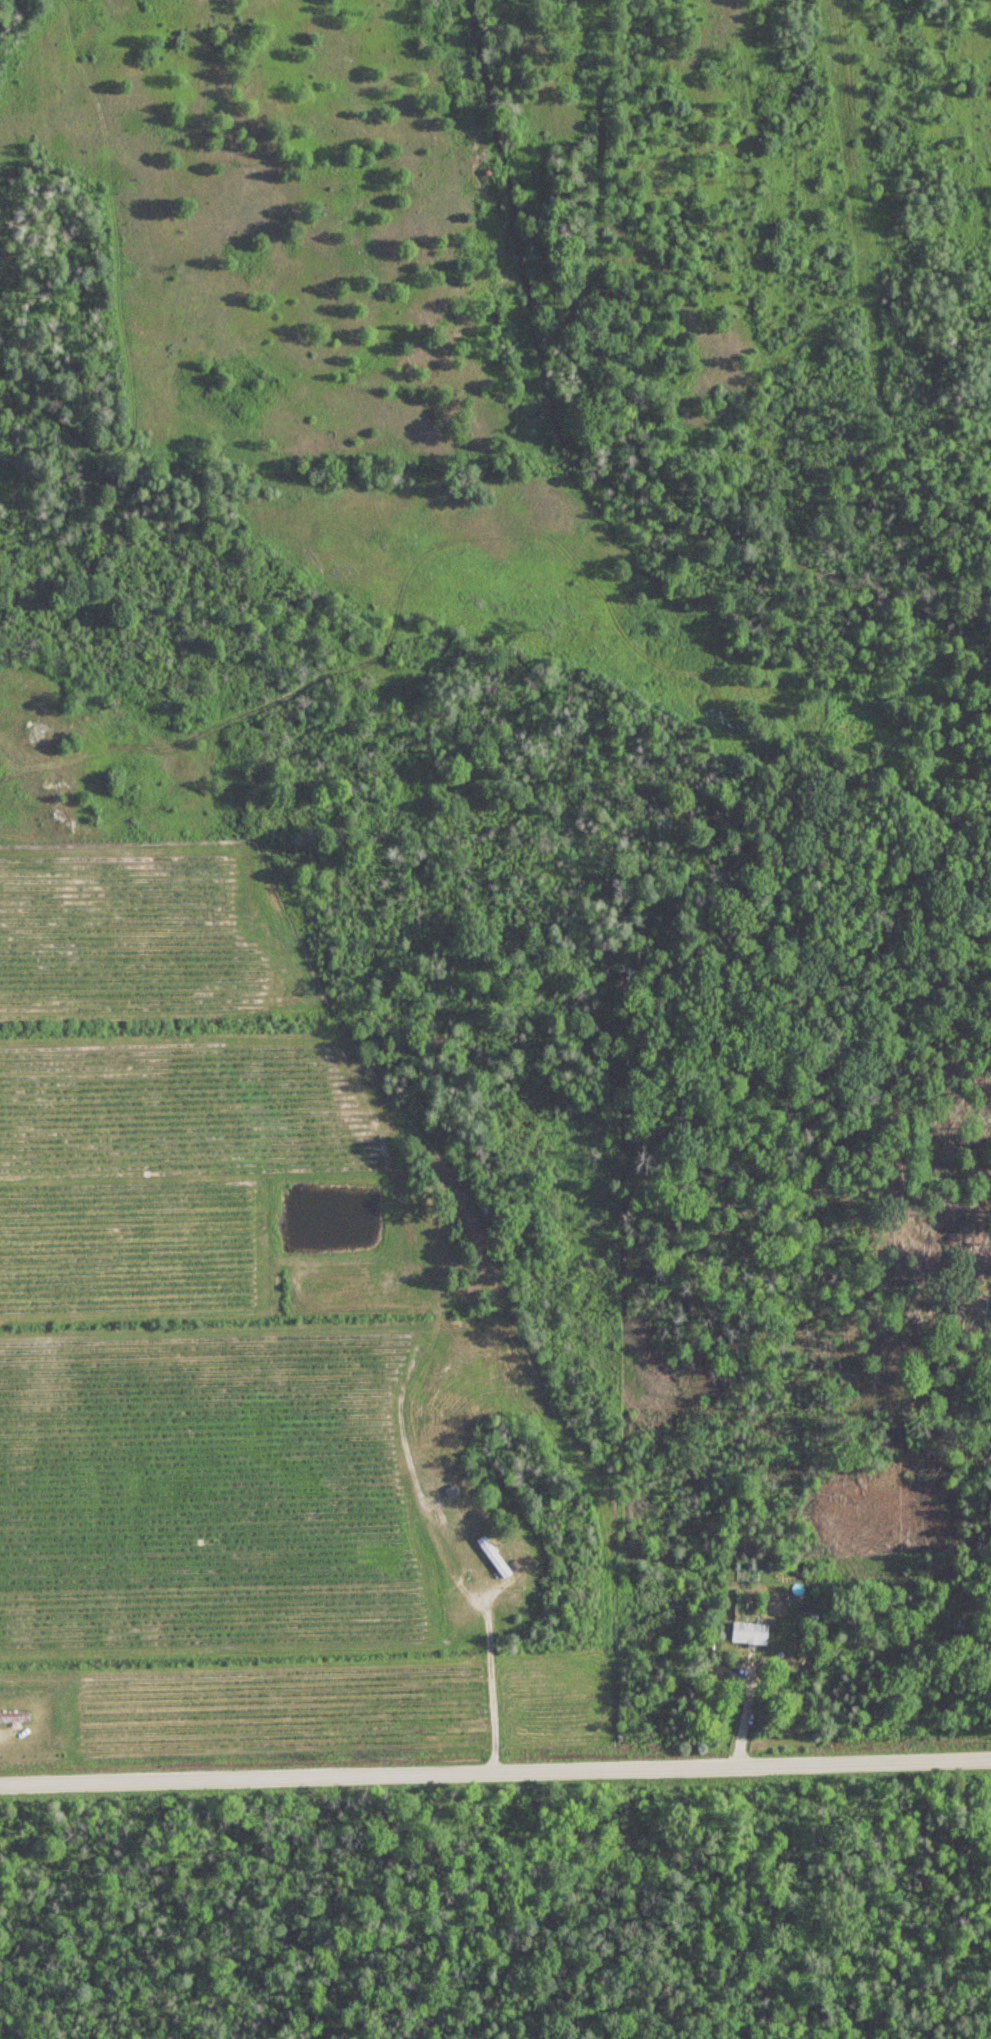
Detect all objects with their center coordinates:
building: (428, 1375)
building: (495, 1557)
building: (751, 1635)
road: (491, 1676)
road: (745, 1714)
building: (15, 1718)
road: (495, 1773)

